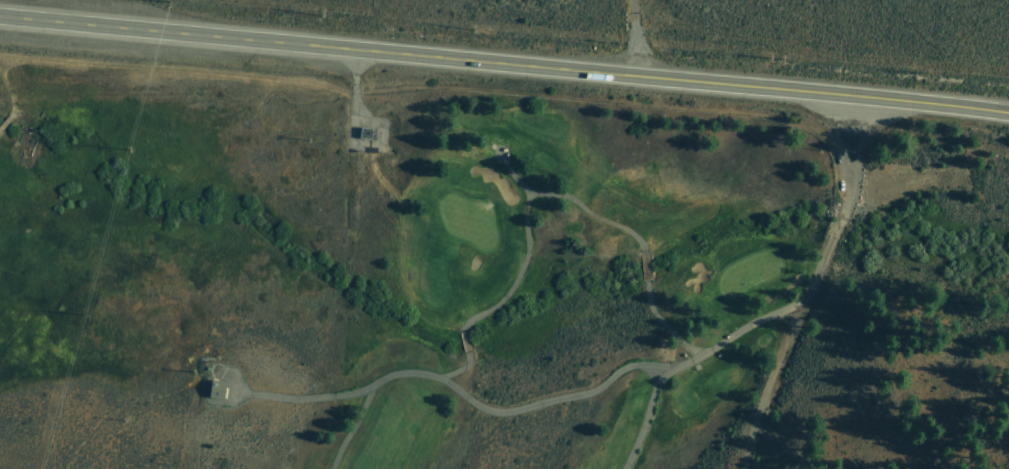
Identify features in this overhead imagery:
power tower: (162, 0)
road: (631, 38)
road: (504, 63)
road: (8, 99)
road: (2, 121)
road: (845, 196)
park: (567, 279)
road: (691, 360)
road: (764, 376)

